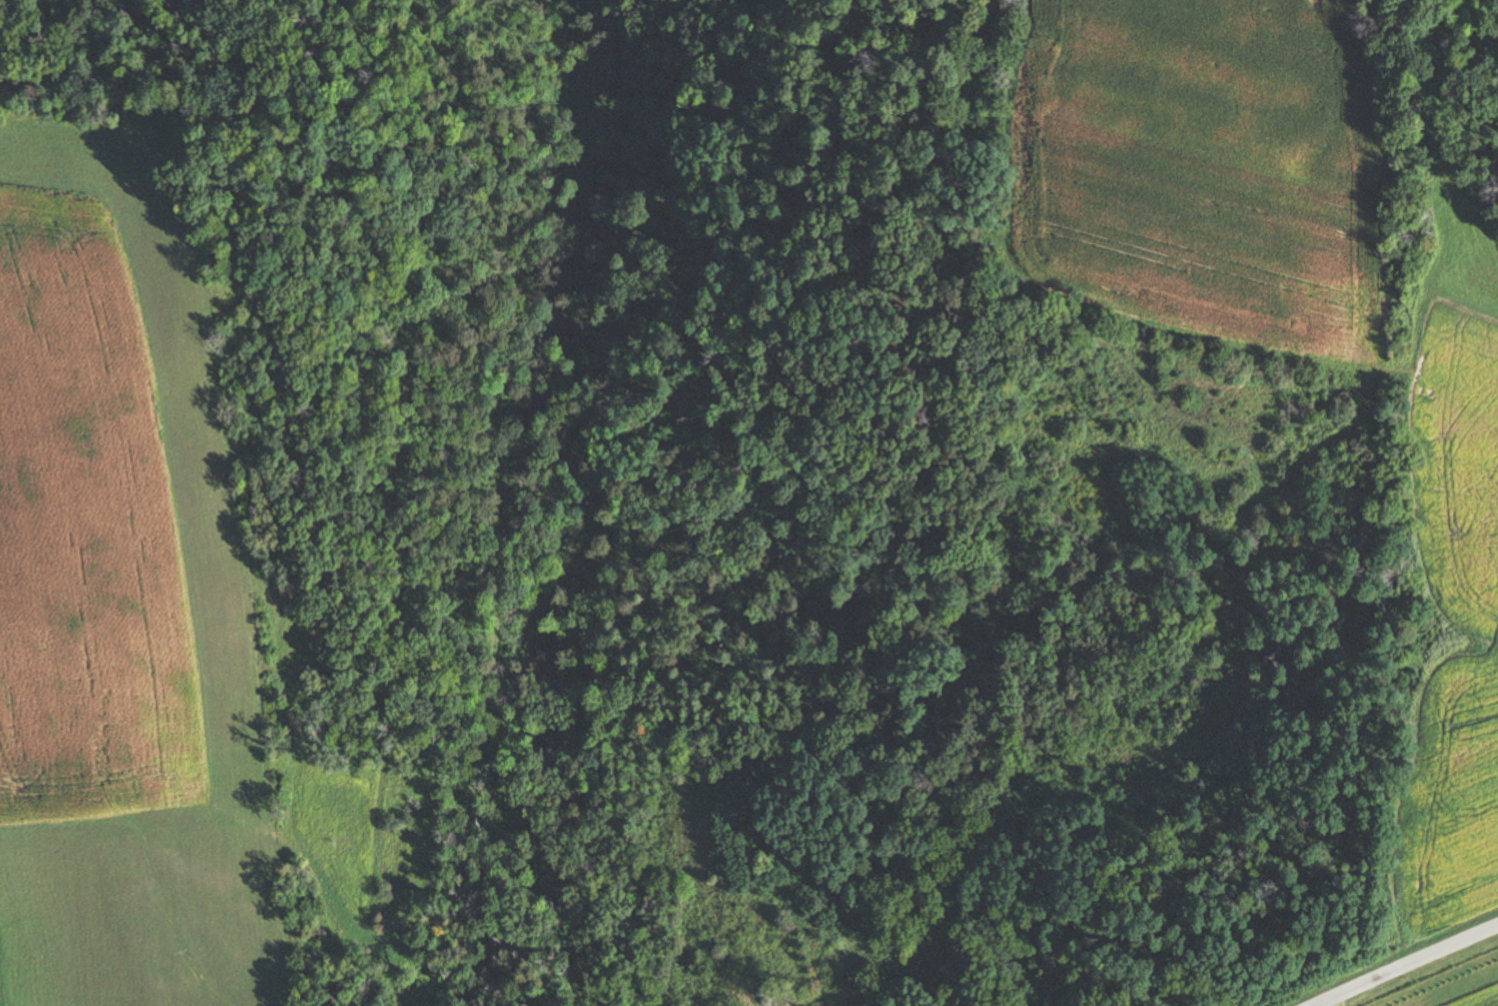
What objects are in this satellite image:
road: (1415, 970)

